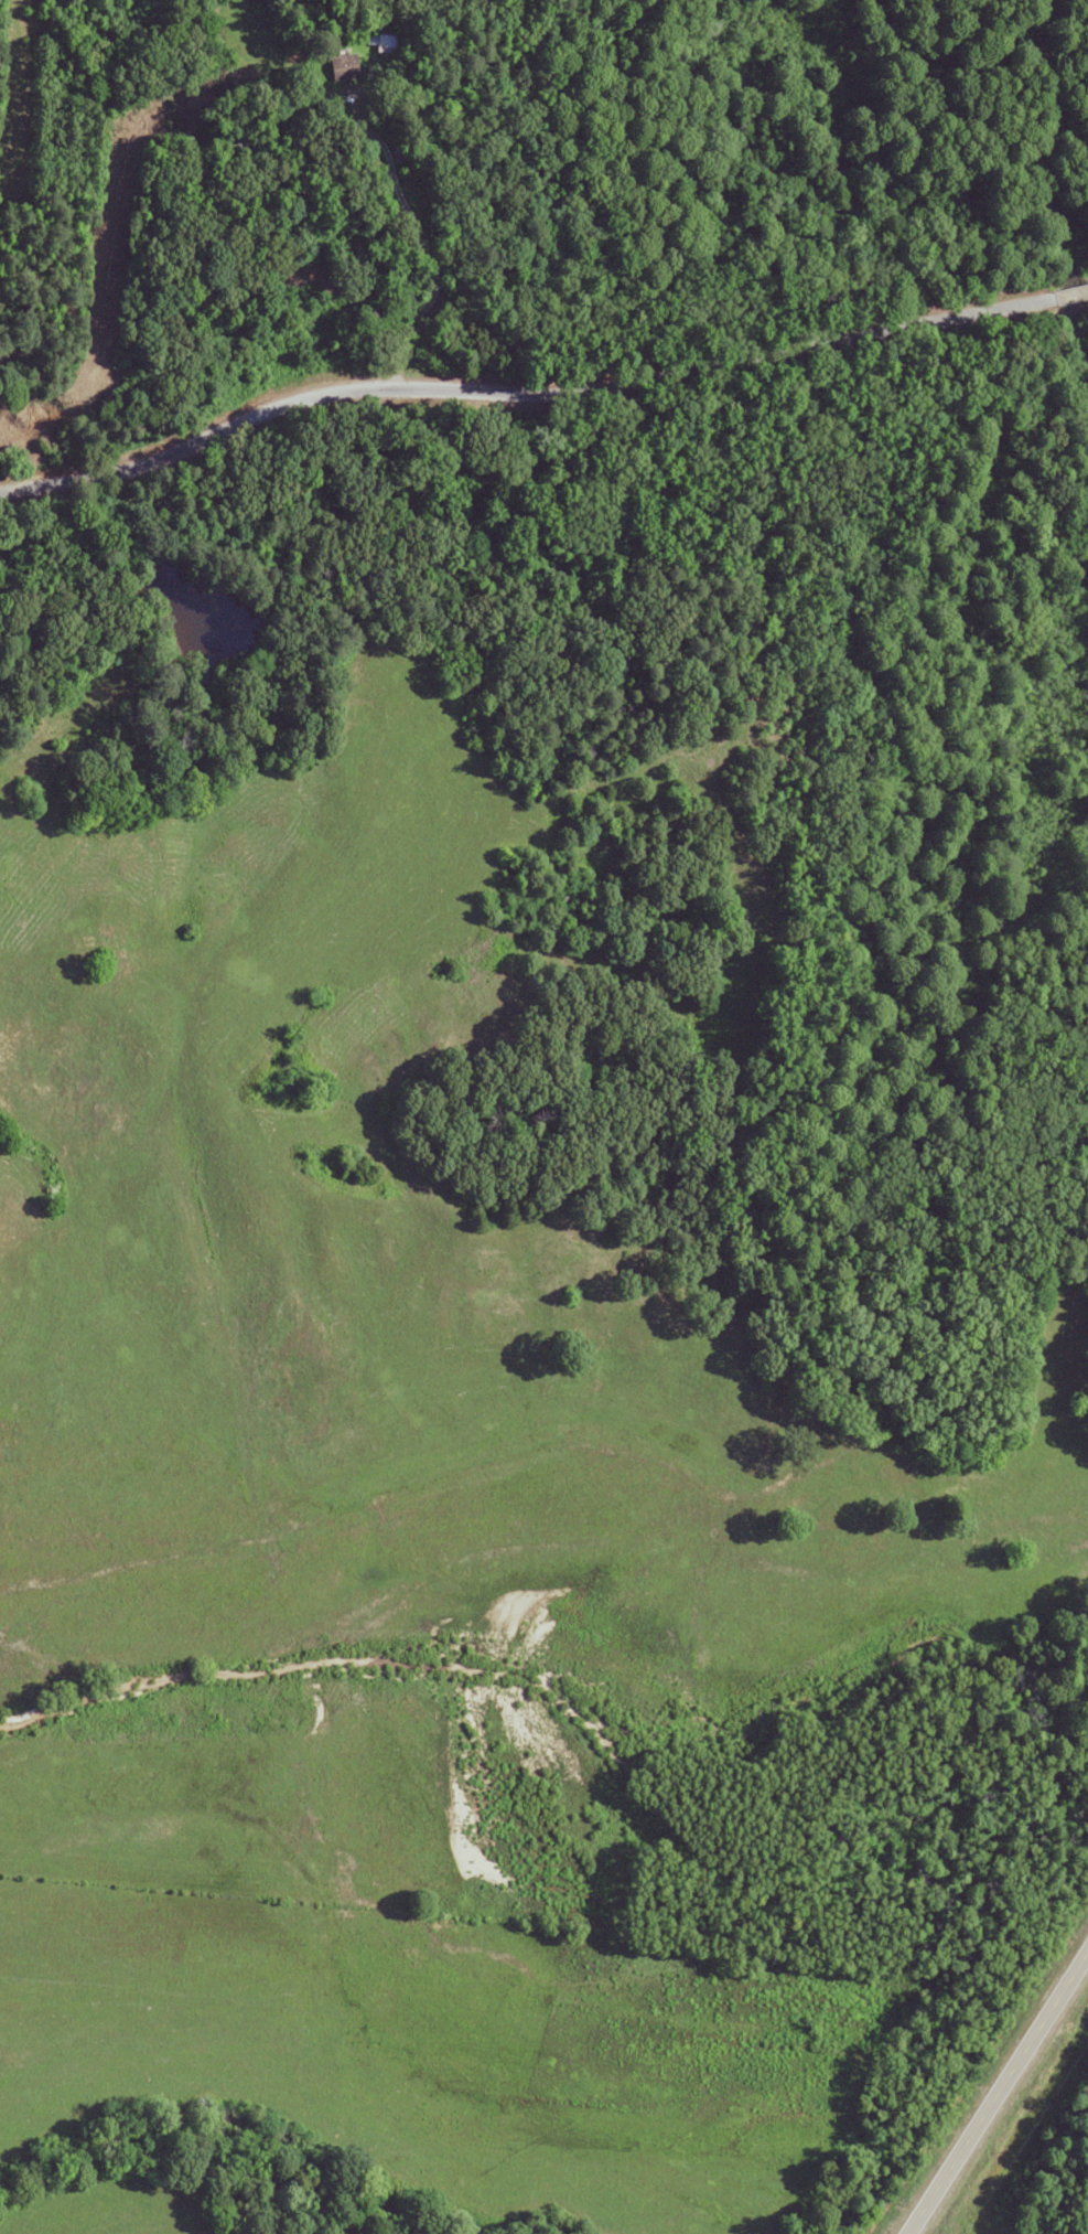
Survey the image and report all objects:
building: (384, 43)
building: (345, 66)
road: (423, 243)
park: (827, 309)
road: (539, 394)
road: (995, 2086)

